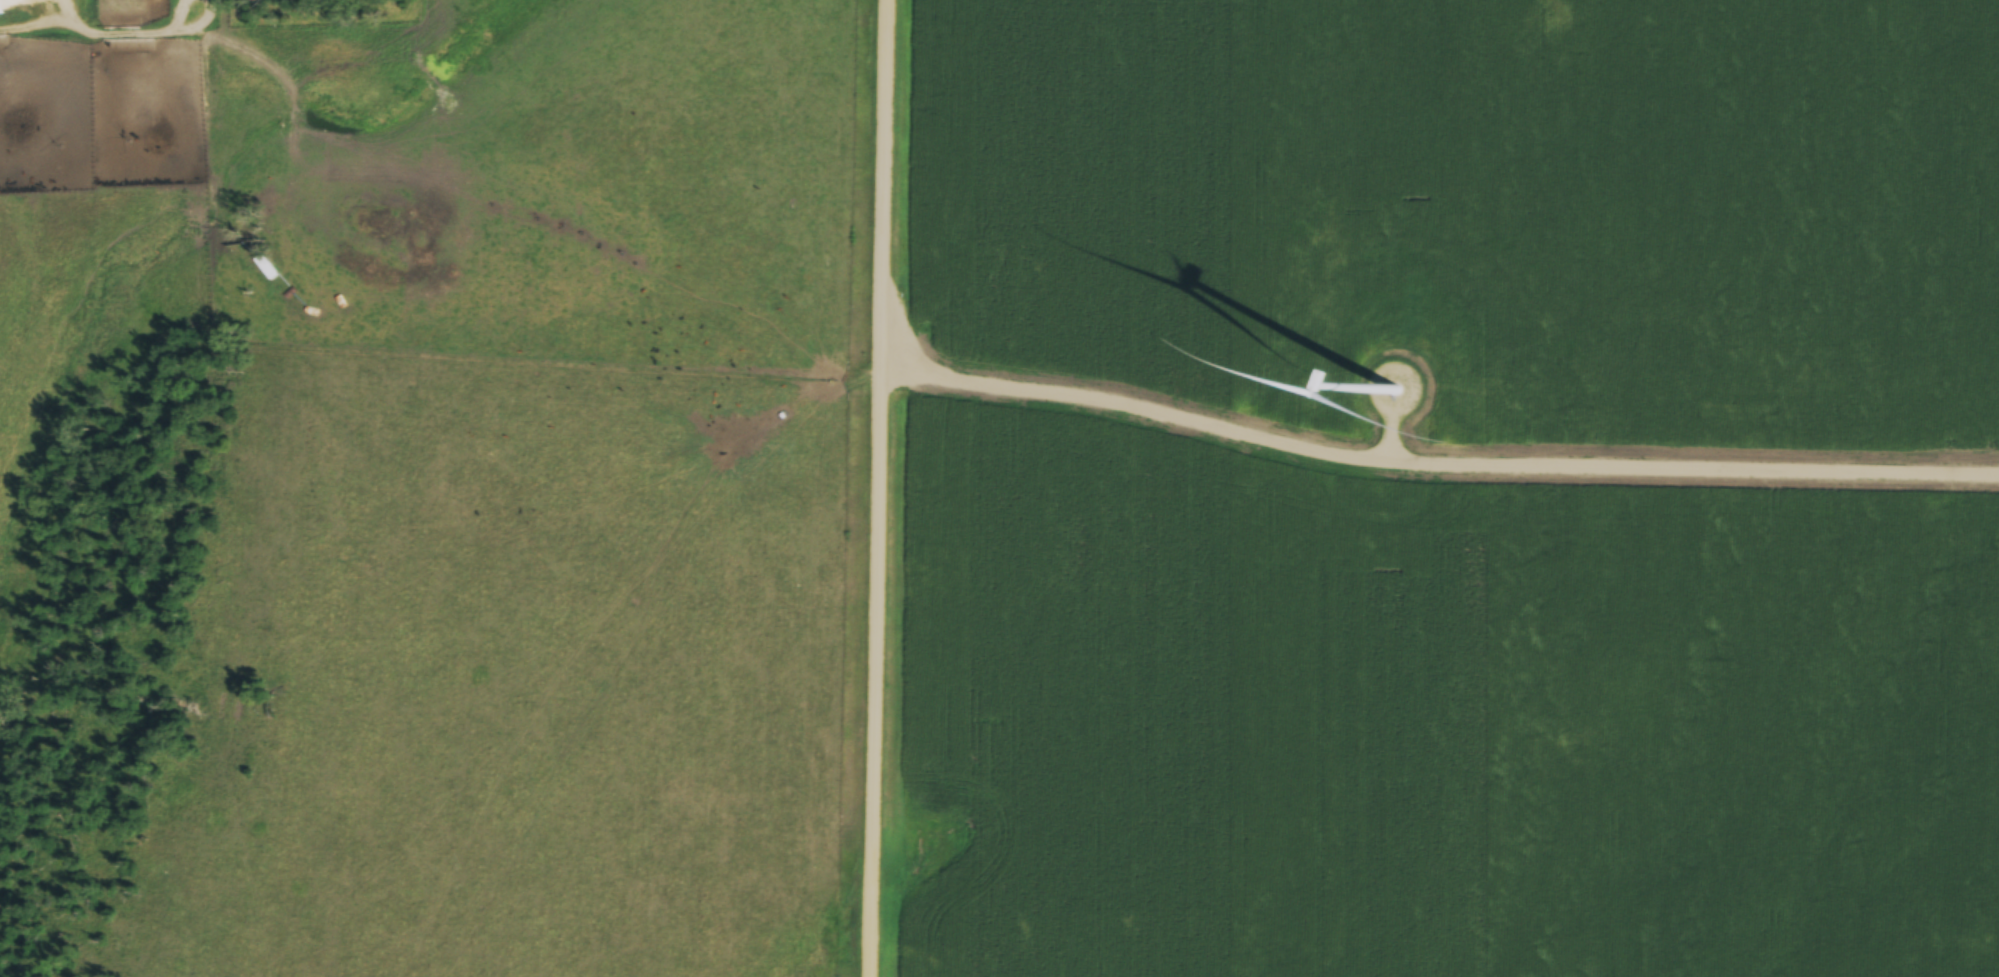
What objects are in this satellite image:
building: (0, 9)
building: (266, 269)
wind turbine: (1387, 393)
road: (881, 488)

